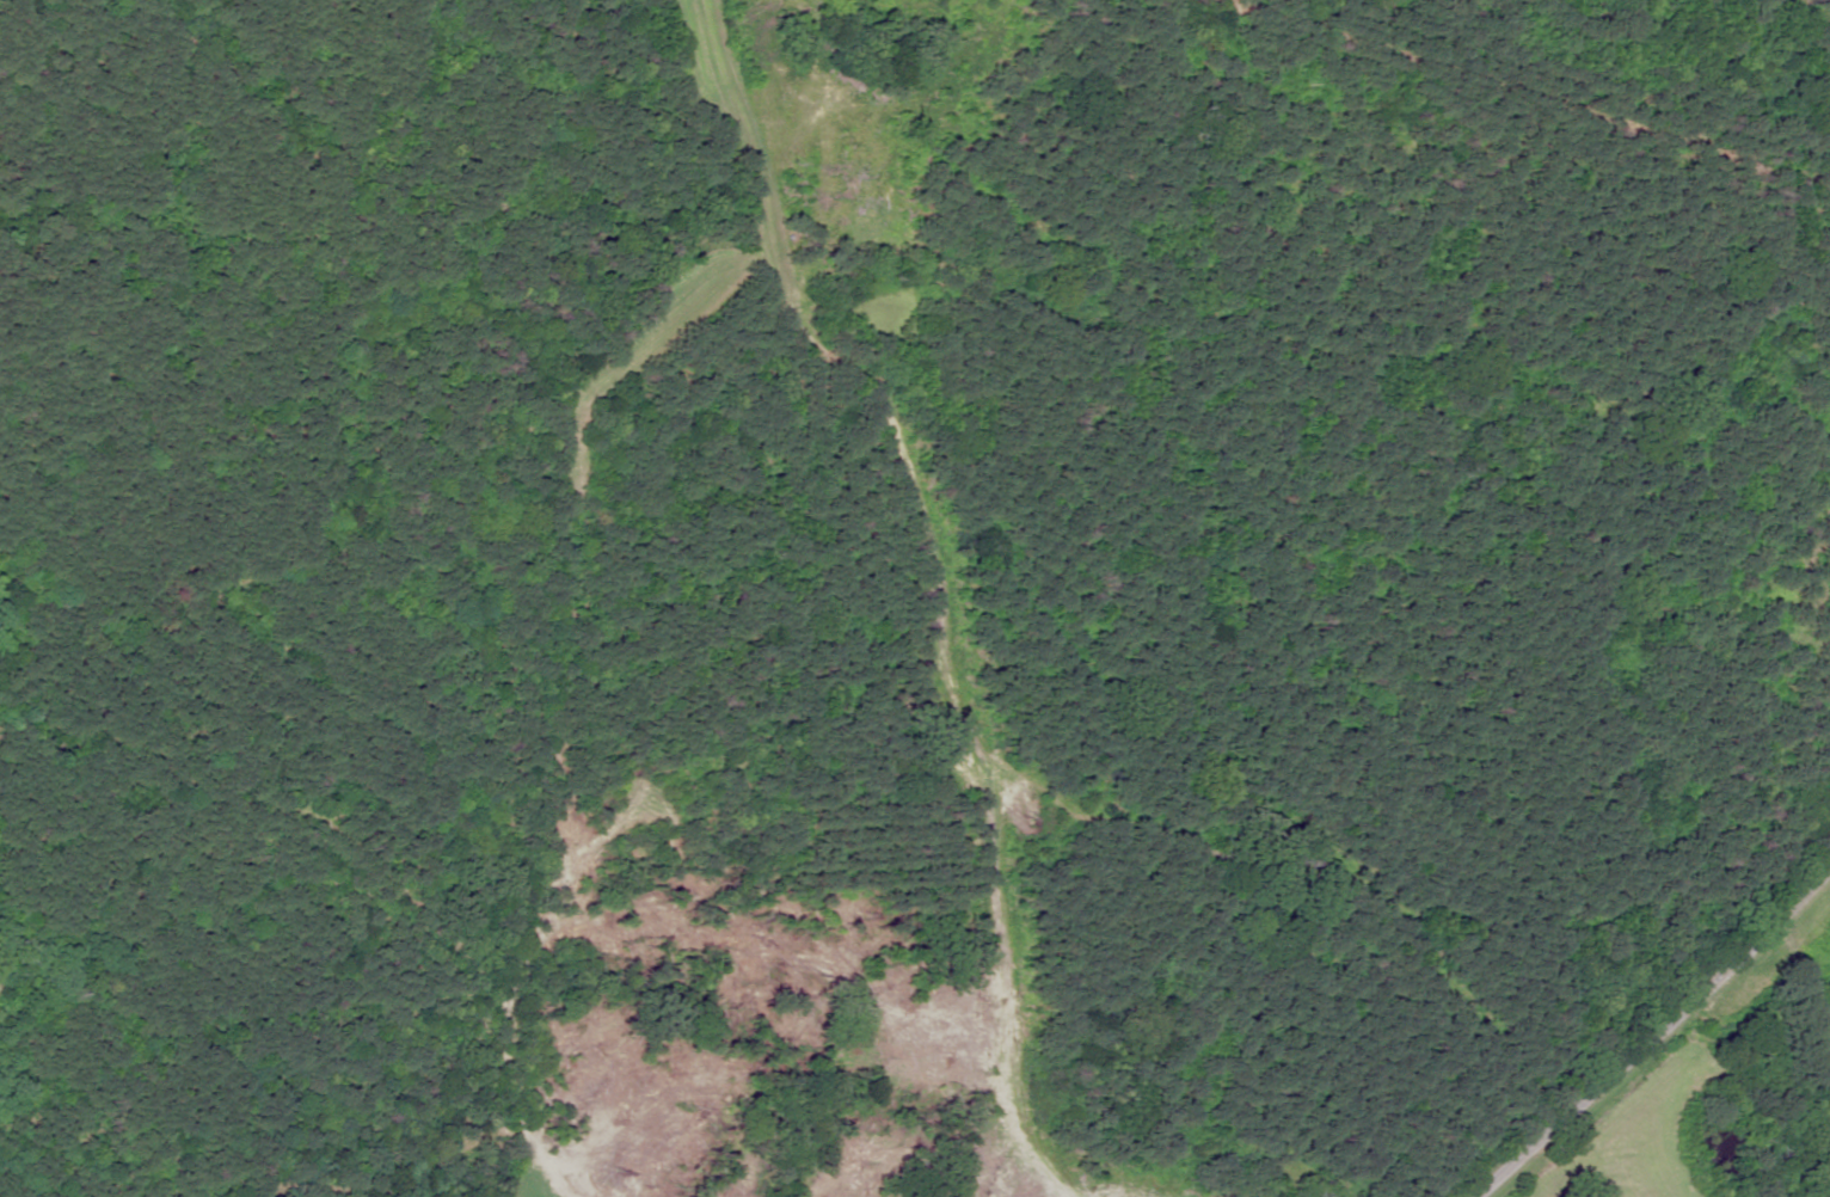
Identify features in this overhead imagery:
road: (1647, 1023)

